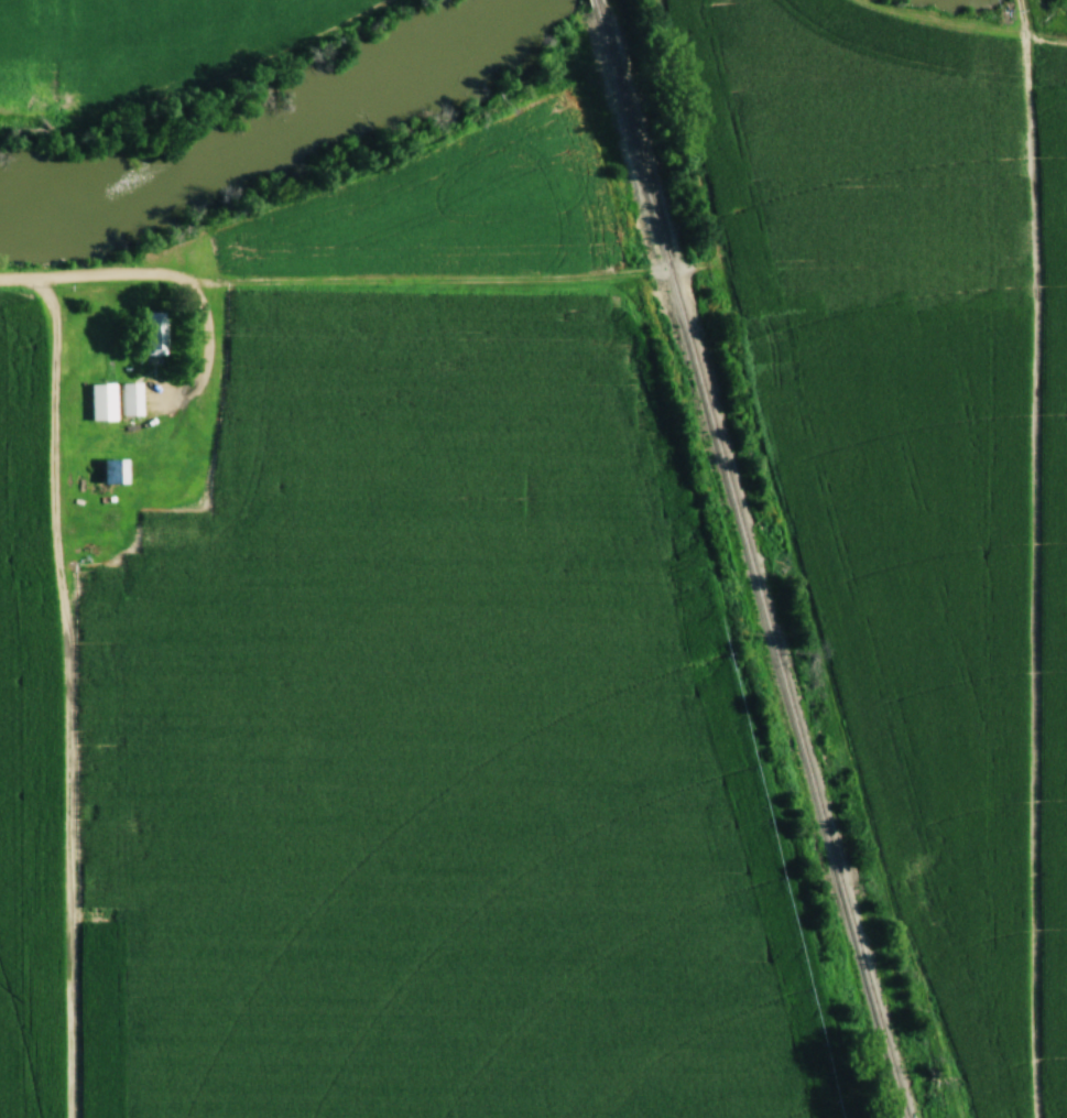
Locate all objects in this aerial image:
railway: (596, 3)
road: (22, 280)
road: (192, 285)
building: (156, 334)
building: (132, 400)
building: (116, 471)
railway: (751, 563)

